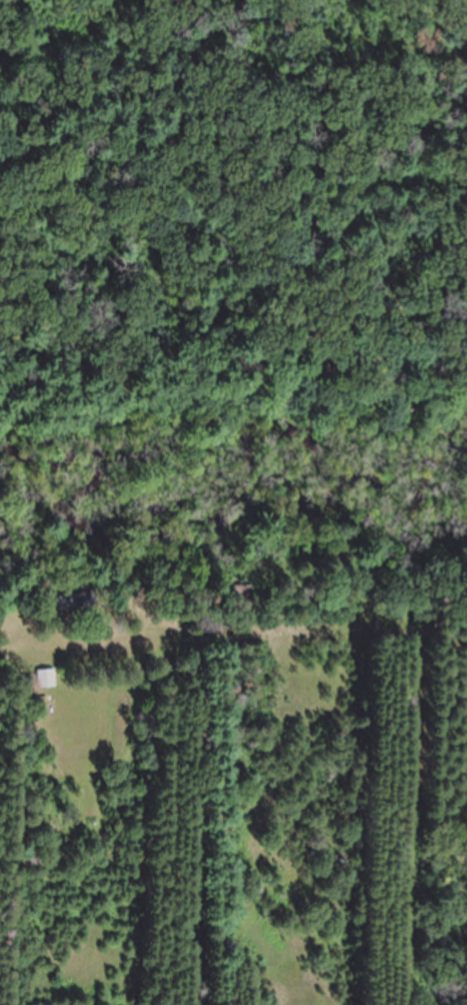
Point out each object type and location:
building: (69, 614)
building: (47, 691)

